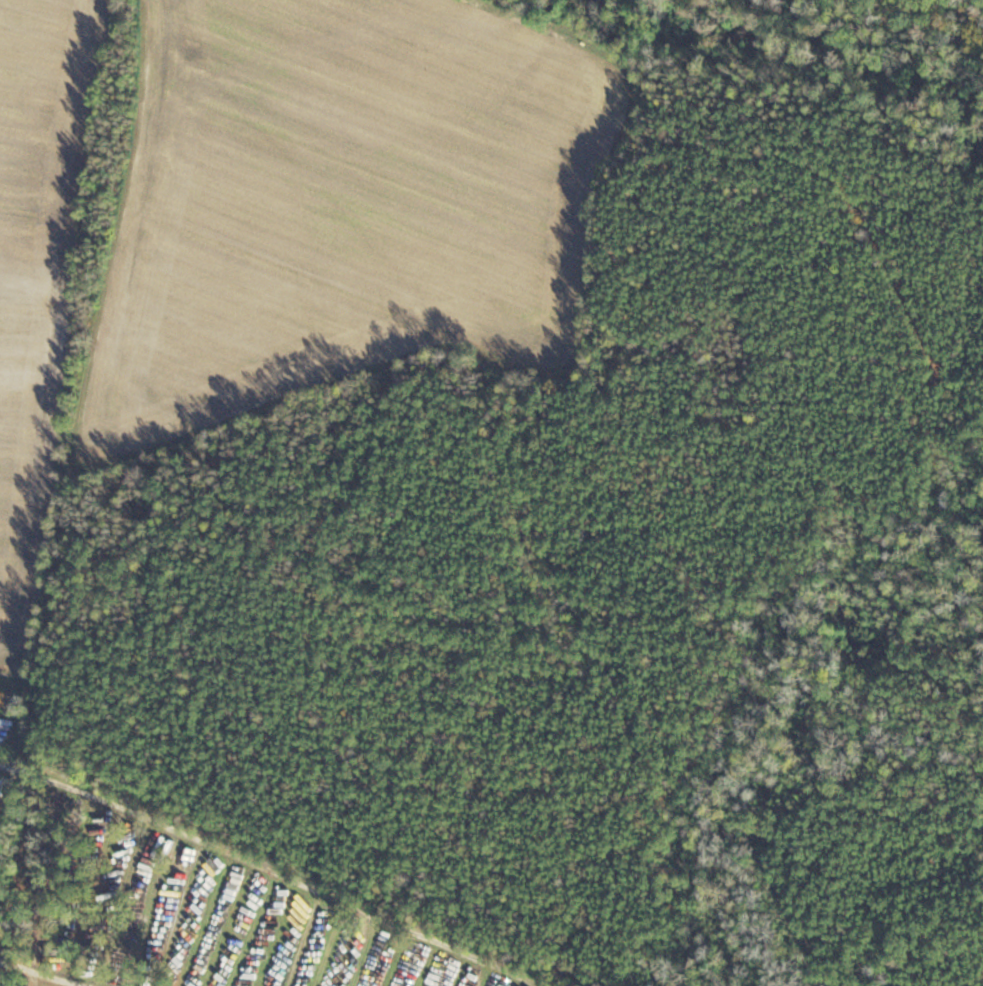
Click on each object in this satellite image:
building: (3, 786)

